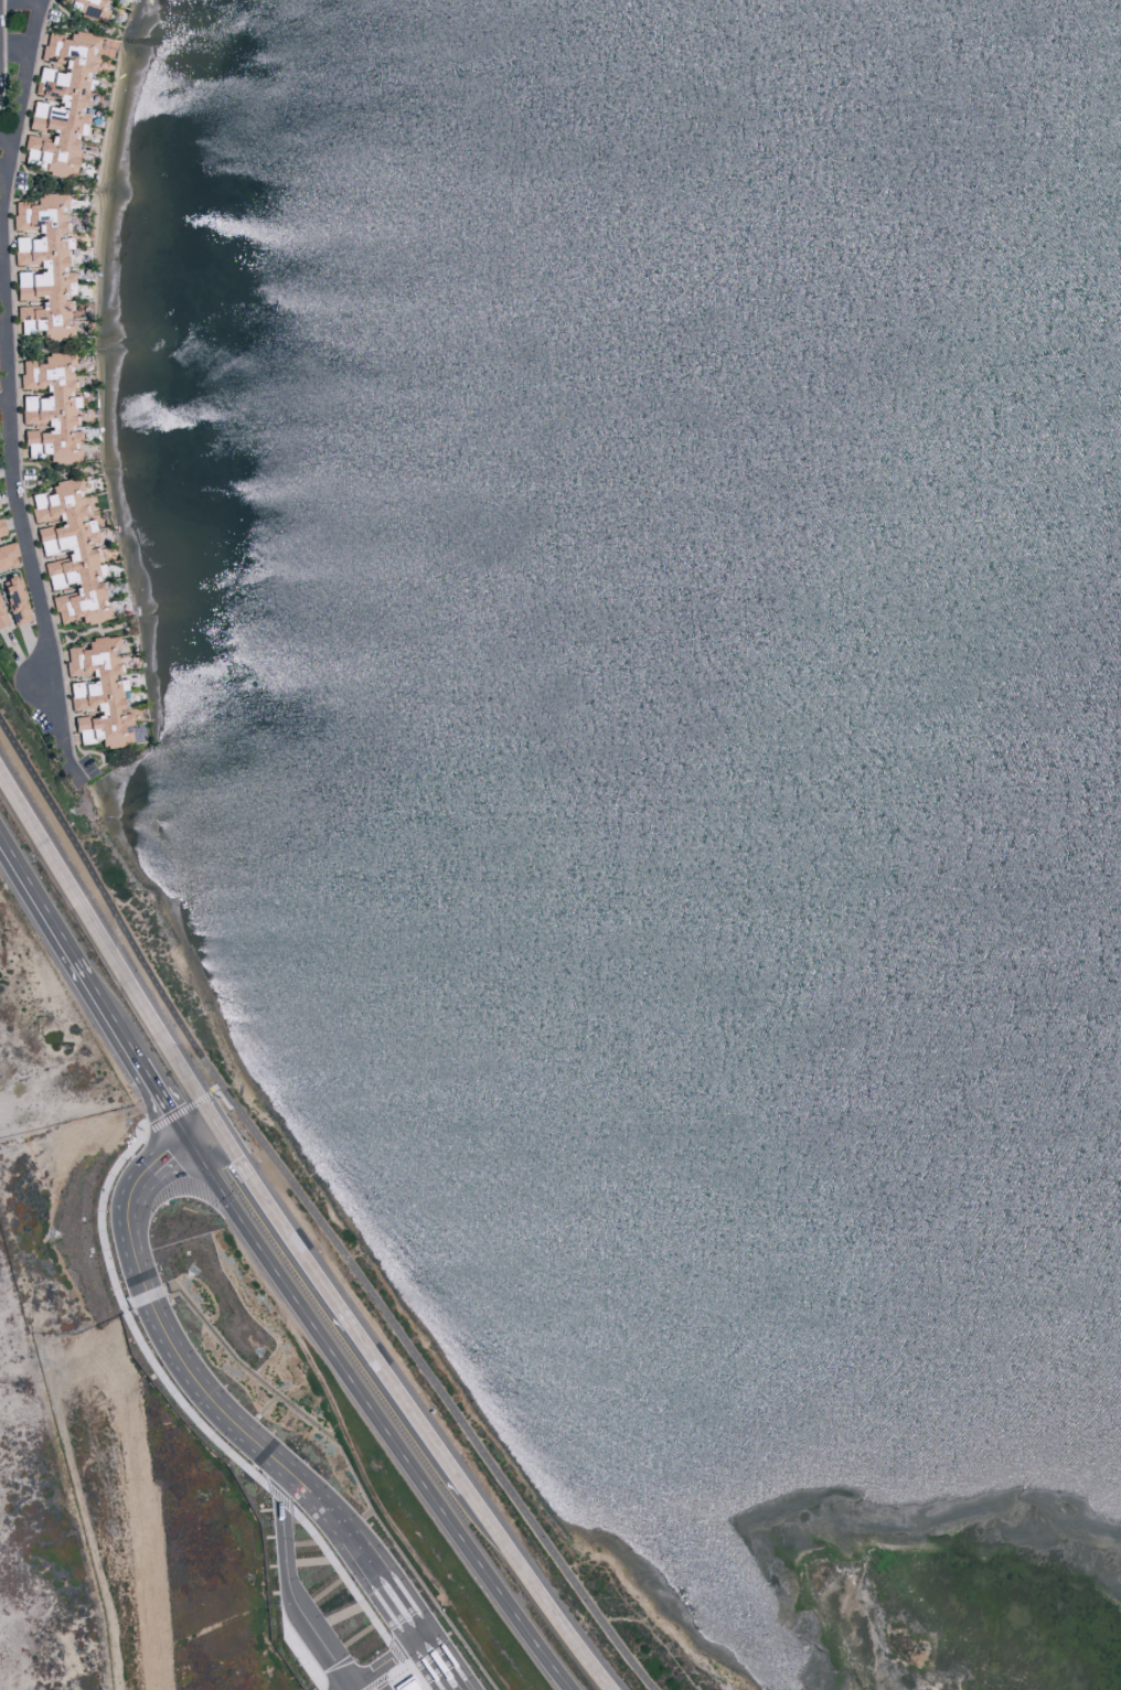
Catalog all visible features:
building: (83, 6)
building: (58, 100)
road: (12, 105)
road: (6, 173)
road: (3, 258)
building: (41, 266)
road: (11, 394)
road: (6, 418)
building: (1, 531)
building: (66, 549)
building: (7, 556)
building: (53, 581)
building: (13, 599)
building: (1, 617)
building: (95, 693)
road: (70, 944)
road: (107, 948)
road: (166, 1100)
road: (203, 1133)
road: (172, 1153)
road: (311, 1212)
road: (341, 1305)
road: (378, 1416)
road: (258, 1454)
road: (286, 1589)
road: (537, 1589)
park: (875, 1627)
building: (403, 1684)

